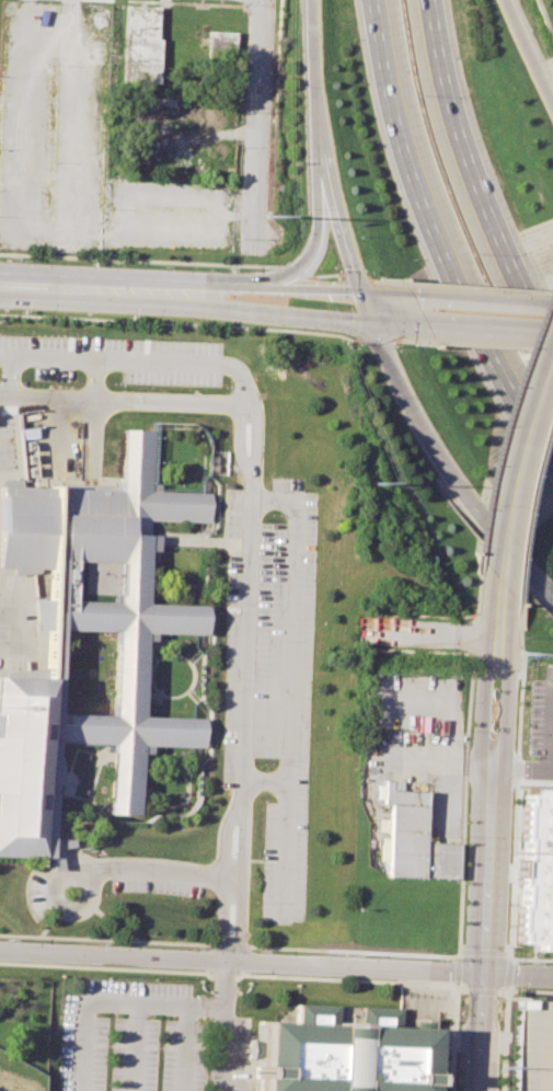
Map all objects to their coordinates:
building: (141, 44)
road: (531, 46)
building: (221, 48)
road: (258, 116)
parking lot: (53, 124)
road: (322, 149)
road: (480, 163)
street lamp: (299, 207)
power tower: (268, 215)
road: (316, 217)
road: (440, 232)
street lamp: (360, 234)
street lamp: (238, 236)
street lamp: (23, 261)
street lamp: (92, 263)
street lamp: (166, 266)
street lamp: (375, 275)
road: (207, 287)
street lamp: (504, 291)
road: (484, 301)
road: (187, 308)
road: (369, 309)
street lamp: (21, 311)
street lamp: (129, 319)
road: (405, 326)
street lamp: (284, 333)
road: (494, 333)
street lamp: (402, 345)
road: (125, 361)
street lamp: (382, 395)
road: (506, 414)
road: (453, 461)
road: (519, 464)
road: (247, 480)
power tower: (375, 483)
street lamp: (449, 505)
road: (529, 505)
road: (7, 629)
road: (436, 636)
power tower: (522, 652)
building: (130, 658)
parking lot: (272, 675)
road: (287, 686)
road: (549, 732)
road: (465, 758)
road: (523, 771)
road: (262, 781)
road: (492, 836)
building: (416, 840)
road: (514, 847)
power tower: (511, 855)
building: (535, 870)
road: (163, 873)
road: (221, 880)
road: (240, 882)
road: (85, 907)
road: (482, 952)
road: (532, 958)
road: (276, 963)
road: (457, 973)
road: (230, 974)
road: (504, 991)
road: (90, 1000)
road: (206, 1006)
road: (224, 1025)
parking lot: (133, 1038)
road: (453, 1041)
building: (533, 1045)
parking garage: (533, 1045)
road: (135, 1047)
road: (184, 1048)
building: (342, 1053)
power tower: (503, 1068)

